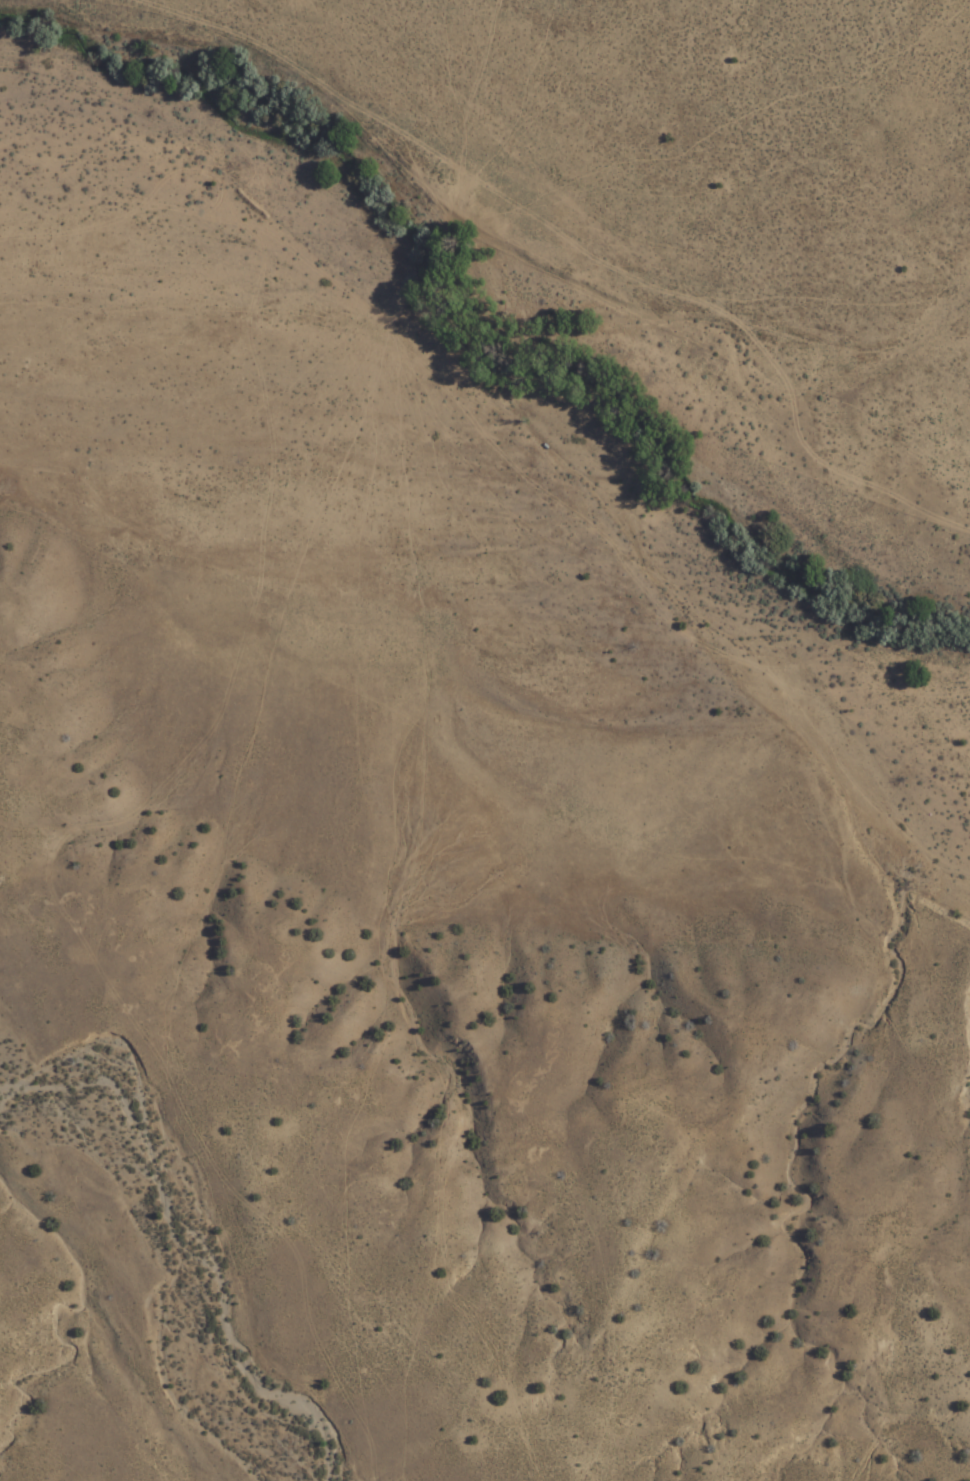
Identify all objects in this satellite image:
river: (485, 308)

